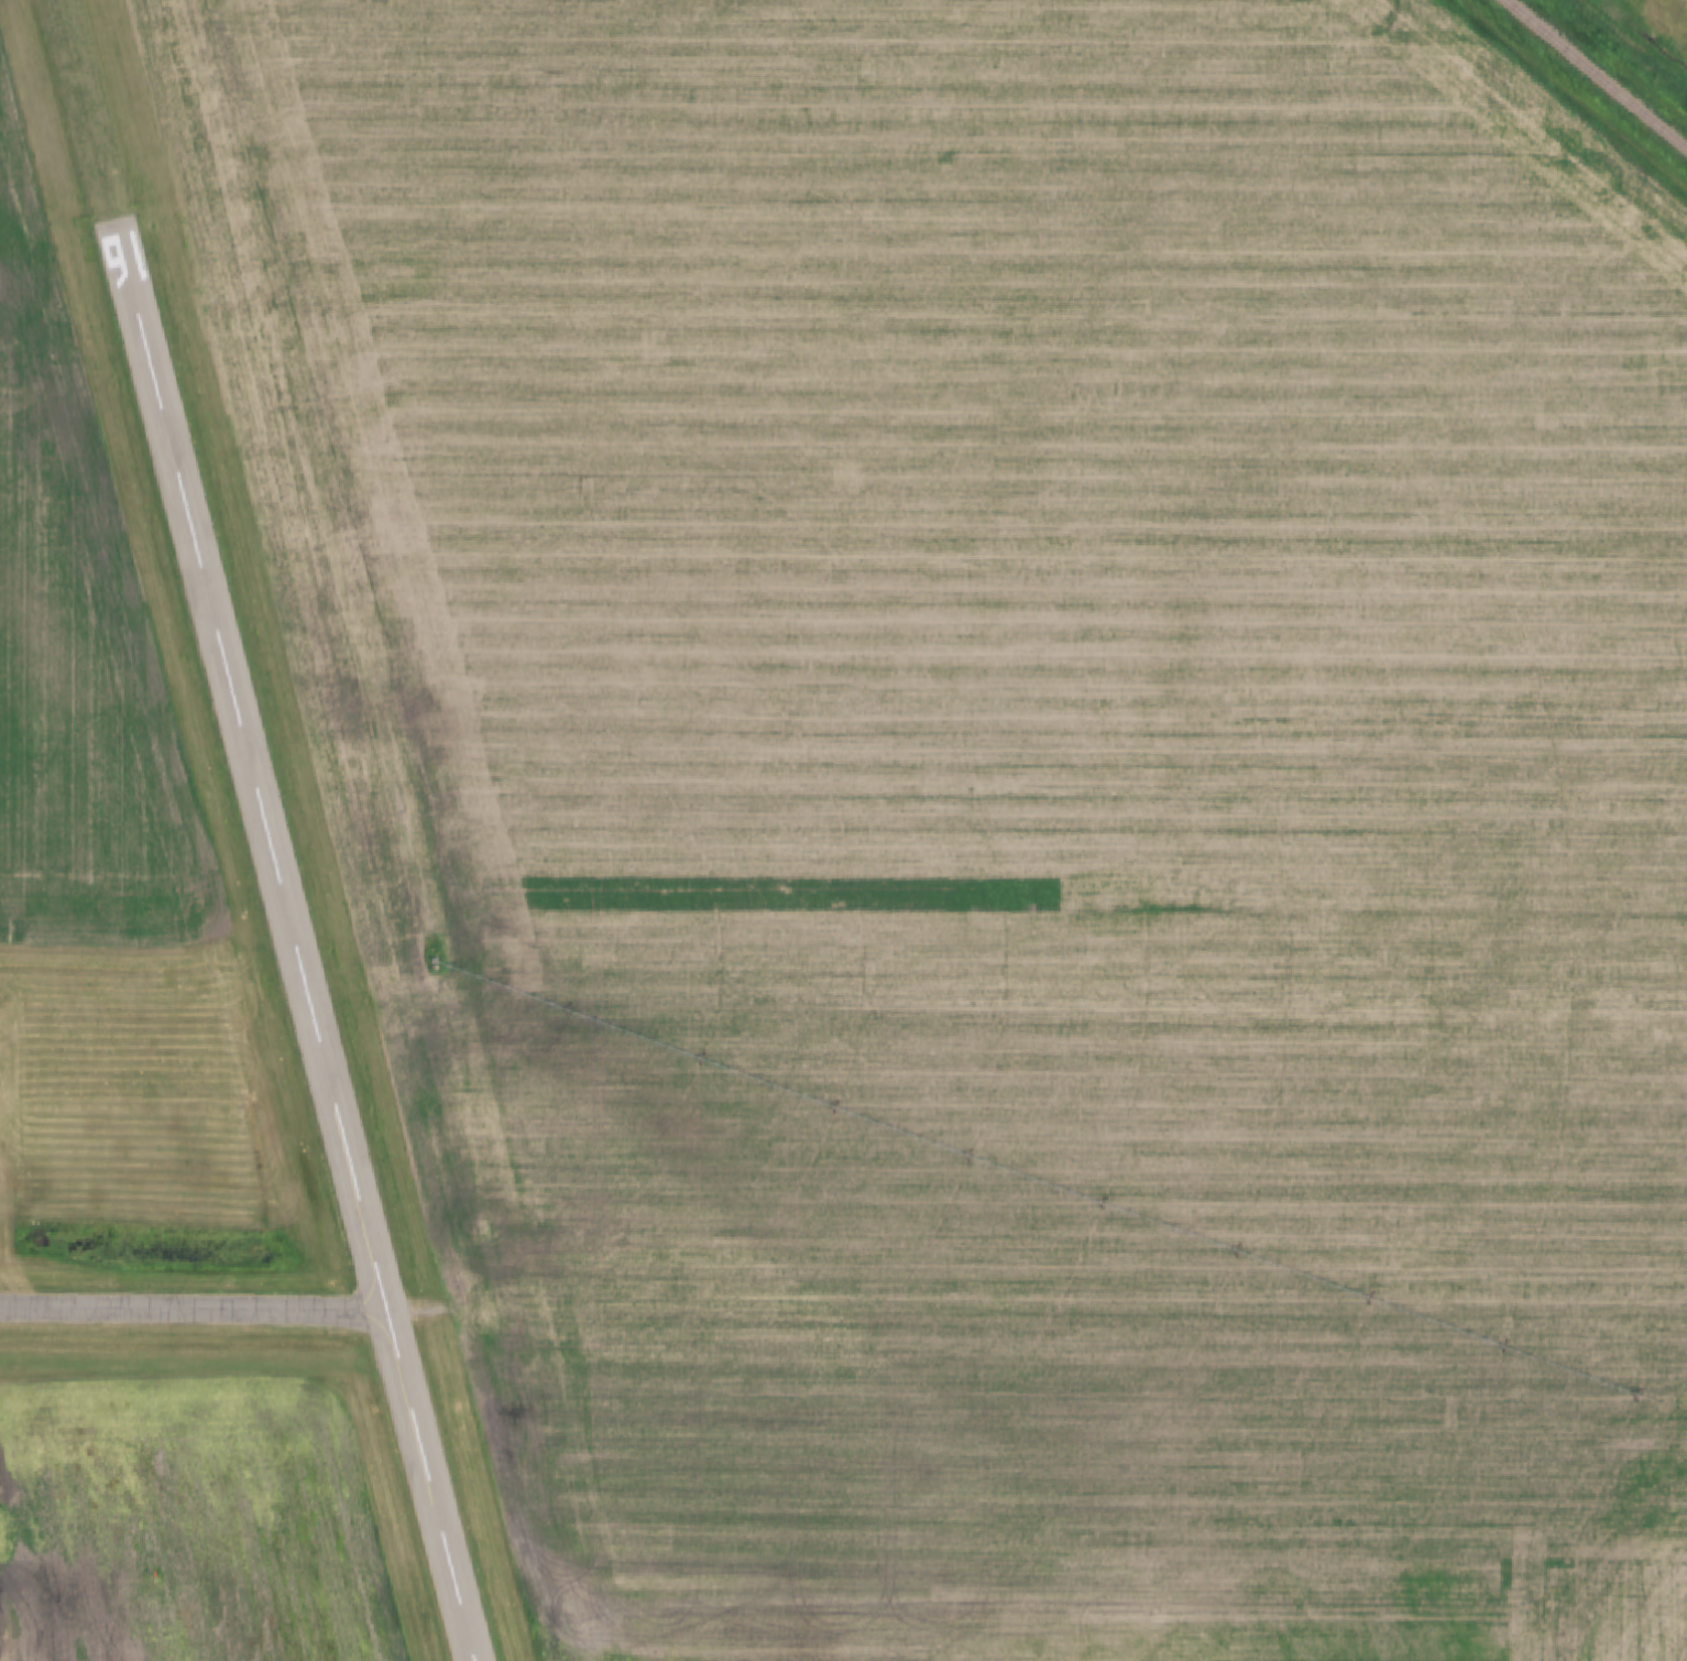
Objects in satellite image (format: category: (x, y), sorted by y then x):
railway: (1599, 73)
airport runway: (265, 830)
airport: (199, 940)
airport taxiway: (193, 1310)

